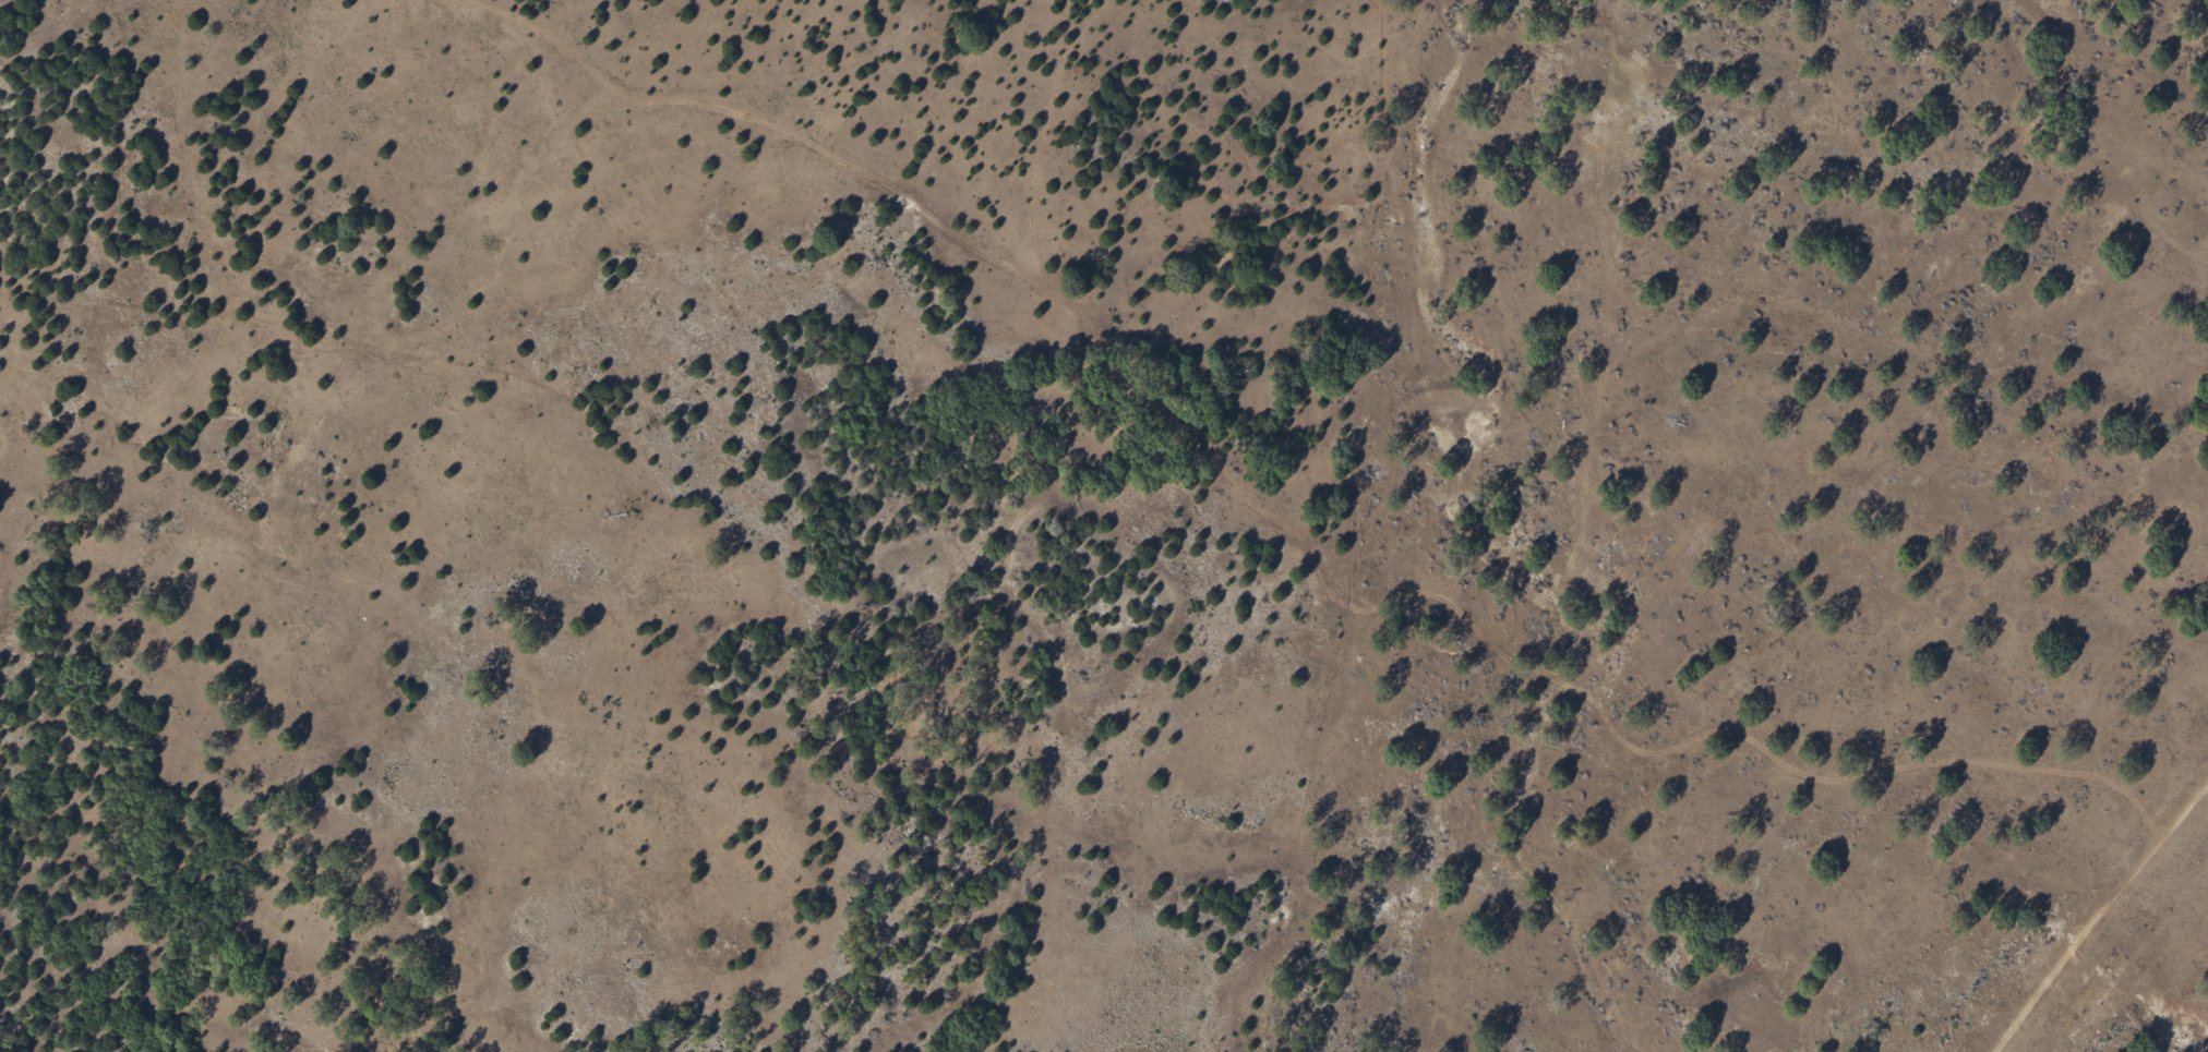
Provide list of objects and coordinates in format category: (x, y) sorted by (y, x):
airport runway: (2105, 926)

